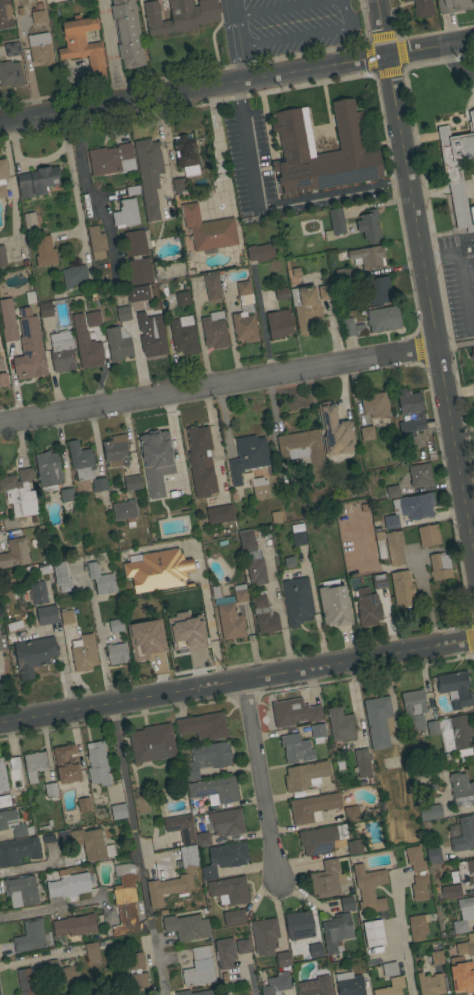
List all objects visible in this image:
building: (453, 5)
building: (422, 7)
road: (286, 9)
building: (5, 15)
building: (180, 15)
building: (37, 16)
road: (386, 29)
building: (127, 33)
road: (305, 36)
road: (235, 41)
building: (82, 44)
road: (459, 45)
building: (40, 48)
building: (11, 49)
road: (116, 51)
road: (418, 53)
road: (453, 68)
building: (10, 74)
road: (196, 90)
road: (0, 122)
road: (0, 124)
road: (166, 135)
building: (296, 140)
road: (220, 148)
building: (186, 155)
road: (39, 160)
building: (113, 160)
building: (458, 170)
building: (149, 174)
building: (3, 177)
building: (37, 181)
building: (180, 186)
building: (130, 190)
road: (11, 191)
road: (273, 205)
building: (126, 214)
building: (32, 221)
building: (335, 224)
building: (369, 226)
building: (208, 230)
building: (97, 241)
building: (135, 243)
building: (45, 251)
building: (261, 252)
building: (2, 256)
building: (368, 257)
building: (139, 271)
building: (342, 274)
road: (460, 275)
building: (73, 276)
building: (212, 287)
building: (380, 290)
building: (326, 292)
building: (282, 294)
building: (182, 298)
road: (429, 305)
building: (137, 308)
building: (305, 308)
building: (45, 309)
building: (123, 313)
building: (245, 315)
building: (93, 319)
building: (384, 319)
building: (8, 320)
building: (280, 323)
building: (351, 327)
building: (215, 331)
building: (184, 335)
building: (153, 336)
building: (118, 343)
road: (455, 344)
building: (29, 348)
building: (88, 348)
building: (62, 353)
building: (472, 354)
building: (1, 375)
road: (218, 384)
building: (473, 384)
building: (472, 391)
building: (375, 404)
building: (420, 413)
building: (335, 430)
building: (367, 433)
building: (116, 451)
building: (305, 451)
building: (247, 457)
building: (81, 460)
building: (157, 460)
building: (200, 461)
road: (466, 462)
building: (48, 471)
building: (420, 475)
building: (133, 483)
building: (100, 484)
building: (260, 487)
building: (393, 491)
building: (20, 492)
building: (68, 496)
building: (410, 509)
building: (126, 511)
building: (219, 514)
building: (298, 535)
building: (429, 535)
building: (379, 540)
building: (395, 547)
building: (15, 553)
building: (252, 558)
building: (440, 566)
building: (36, 568)
building: (158, 570)
building: (62, 576)
building: (101, 579)
building: (379, 581)
building: (403, 588)
building: (38, 592)
building: (240, 593)
building: (297, 598)
building: (334, 604)
building: (369, 609)
building: (47, 615)
building: (264, 615)
building: (67, 617)
building: (230, 619)
building: (115, 626)
building: (184, 632)
building: (145, 638)
building: (2, 642)
building: (85, 653)
building: (117, 653)
building: (34, 655)
road: (237, 683)
building: (456, 687)
building: (414, 709)
building: (295, 712)
building: (379, 721)
building: (340, 724)
building: (204, 726)
building: (433, 728)
building: (318, 732)
building: (456, 735)
building: (152, 743)
building: (296, 749)
building: (473, 751)
building: (207, 758)
building: (14, 763)
building: (67, 763)
building: (98, 763)
building: (34, 765)
building: (363, 767)
building: (305, 775)
building: (2, 776)
road: (262, 782)
road: (128, 784)
building: (216, 789)
building: (462, 789)
building: (52, 791)
building: (5, 800)
building: (84, 805)
building: (313, 807)
building: (119, 811)
building: (352, 813)
building: (431, 813)
building: (7, 819)
building: (221, 825)
building: (44, 826)
building: (181, 827)
building: (21, 830)
building: (464, 835)
building: (321, 839)
building: (91, 844)
building: (355, 847)
building: (18, 851)
building: (144, 853)
building: (434, 855)
building: (225, 858)
building: (415, 859)
building: (464, 872)
building: (185, 877)
building: (327, 879)
building: (69, 884)
building: (420, 887)
building: (369, 888)
building: (21, 890)
building: (229, 890)
building: (451, 891)
building: (124, 902)
building: (347, 904)
road: (47, 907)
building: (464, 914)
building: (234, 917)
building: (75, 925)
building: (299, 925)
building: (187, 927)
building: (418, 927)
building: (336, 932)
building: (374, 933)
road: (402, 933)
building: (265, 935)
building: (31, 936)
building: (243, 946)
building: (466, 947)
building: (316, 950)
building: (92, 952)
building: (225, 953)
building: (283, 958)
building: (437, 958)
road: (32, 961)
building: (199, 967)
building: (390, 969)
building: (137, 971)
building: (64, 974)
building: (462, 975)
building: (26, 982)
building: (350, 984)
building: (431, 984)
building: (276, 985)
building: (315, 986)
building: (392, 987)
building: (225, 991)
building: (195, 992)

